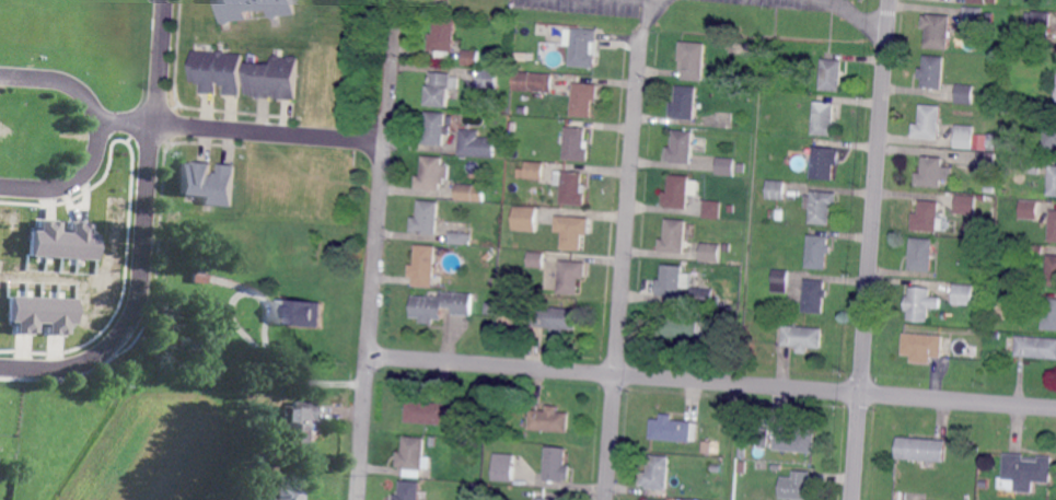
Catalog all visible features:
building: (994, 1)
building: (979, 2)
building: (252, 9)
road: (651, 14)
building: (974, 14)
road: (860, 18)
building: (990, 18)
building: (1041, 24)
building: (939, 30)
building: (443, 38)
building: (583, 48)
building: (471, 60)
building: (692, 61)
building: (216, 71)
building: (935, 73)
building: (832, 75)
building: (272, 79)
building: (488, 80)
building: (533, 82)
building: (441, 89)
building: (966, 96)
building: (583, 97)
building: (684, 103)
building: (825, 121)
building: (930, 123)
road: (127, 124)
building: (436, 128)
road: (269, 132)
building: (1051, 132)
road: (98, 135)
building: (966, 137)
building: (994, 140)
building: (476, 144)
building: (575, 146)
building: (681, 149)
building: (824, 164)
building: (988, 165)
building: (1033, 165)
building: (727, 166)
building: (534, 171)
building: (519, 173)
building: (933, 173)
building: (432, 175)
building: (206, 182)
building: (1053, 183)
building: (571, 188)
building: (991, 189)
building: (776, 191)
building: (469, 195)
building: (676, 195)
building: (966, 205)
building: (822, 207)
building: (711, 210)
building: (1030, 211)
building: (779, 214)
building: (928, 217)
building: (525, 219)
building: (427, 220)
building: (1053, 228)
building: (571, 232)
road: (142, 234)
building: (674, 237)
building: (61, 240)
building: (459, 240)
building: (726, 247)
road: (871, 249)
building: (819, 252)
building: (1032, 252)
building: (710, 253)
road: (376, 254)
building: (922, 255)
building: (535, 260)
building: (780, 263)
road: (624, 264)
building: (425, 266)
building: (1051, 271)
building: (201, 278)
building: (569, 278)
building: (671, 282)
building: (780, 283)
building: (964, 294)
building: (701, 296)
building: (815, 296)
building: (920, 305)
building: (441, 306)
building: (490, 309)
building: (40, 313)
building: (303, 313)
building: (707, 314)
building: (1049, 315)
building: (555, 319)
building: (682, 328)
building: (799, 338)
building: (1036, 346)
building: (925, 348)
road: (711, 381)
building: (426, 412)
building: (548, 420)
building: (297, 427)
building: (673, 430)
building: (759, 435)
building: (794, 441)
building: (700, 450)
building: (741, 452)
building: (920, 452)
building: (413, 461)
building: (491, 464)
building: (502, 465)
building: (556, 465)
building: (776, 467)
building: (715, 468)
building: (1025, 473)
building: (657, 474)
building: (796, 487)
building: (409, 491)
building: (288, 492)
building: (267, 499)
building: (543, 499)
building: (654, 499)
building: (930, 499)

